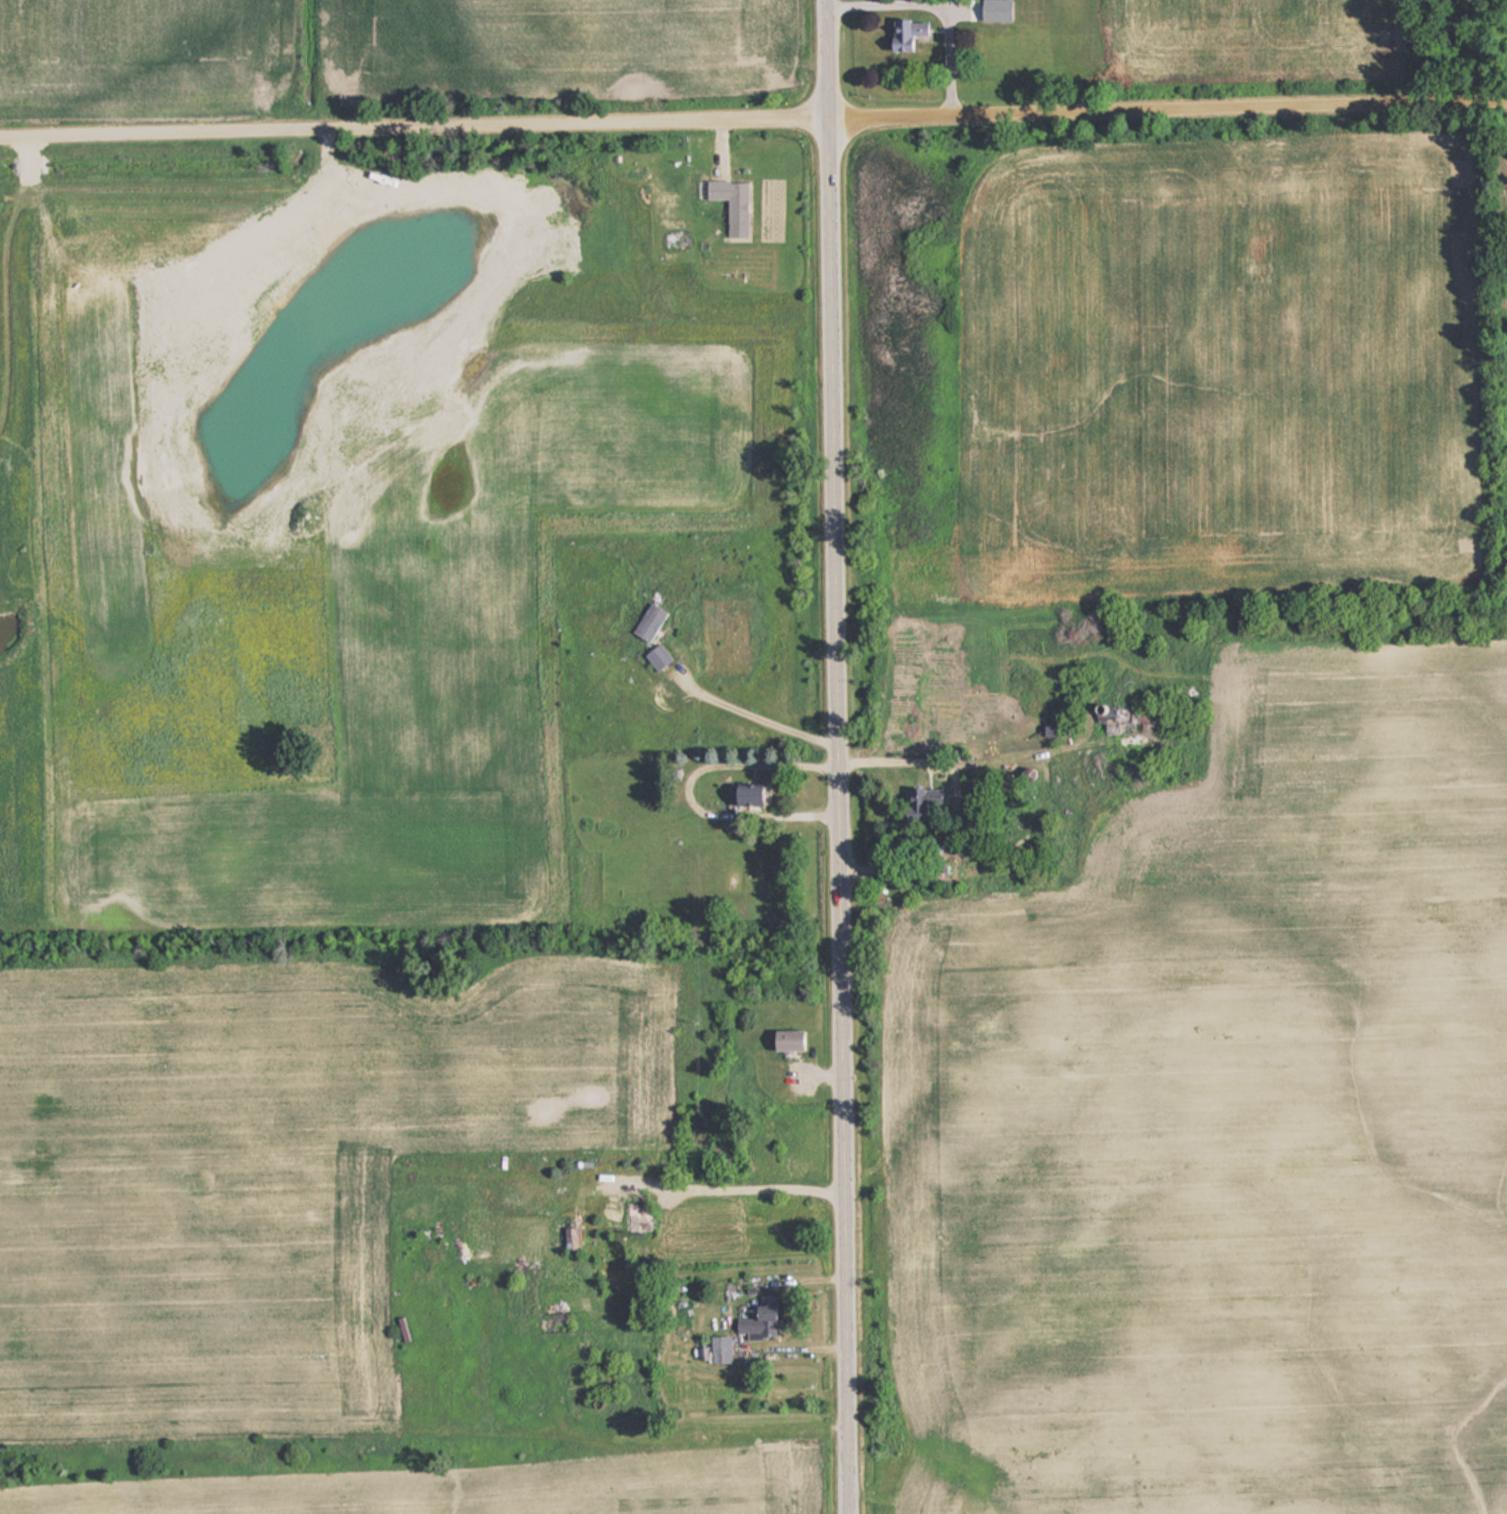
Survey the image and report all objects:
building: (904, 32)
road: (753, 120)
park: (1504, 193)
building: (730, 203)
building: (647, 621)
building: (655, 656)
building: (1127, 723)
building: (1048, 731)
road: (839, 756)
building: (744, 796)
building: (923, 800)
building: (784, 1041)
building: (633, 1213)
building: (566, 1237)
building: (758, 1319)
building: (399, 1327)
building: (715, 1348)

